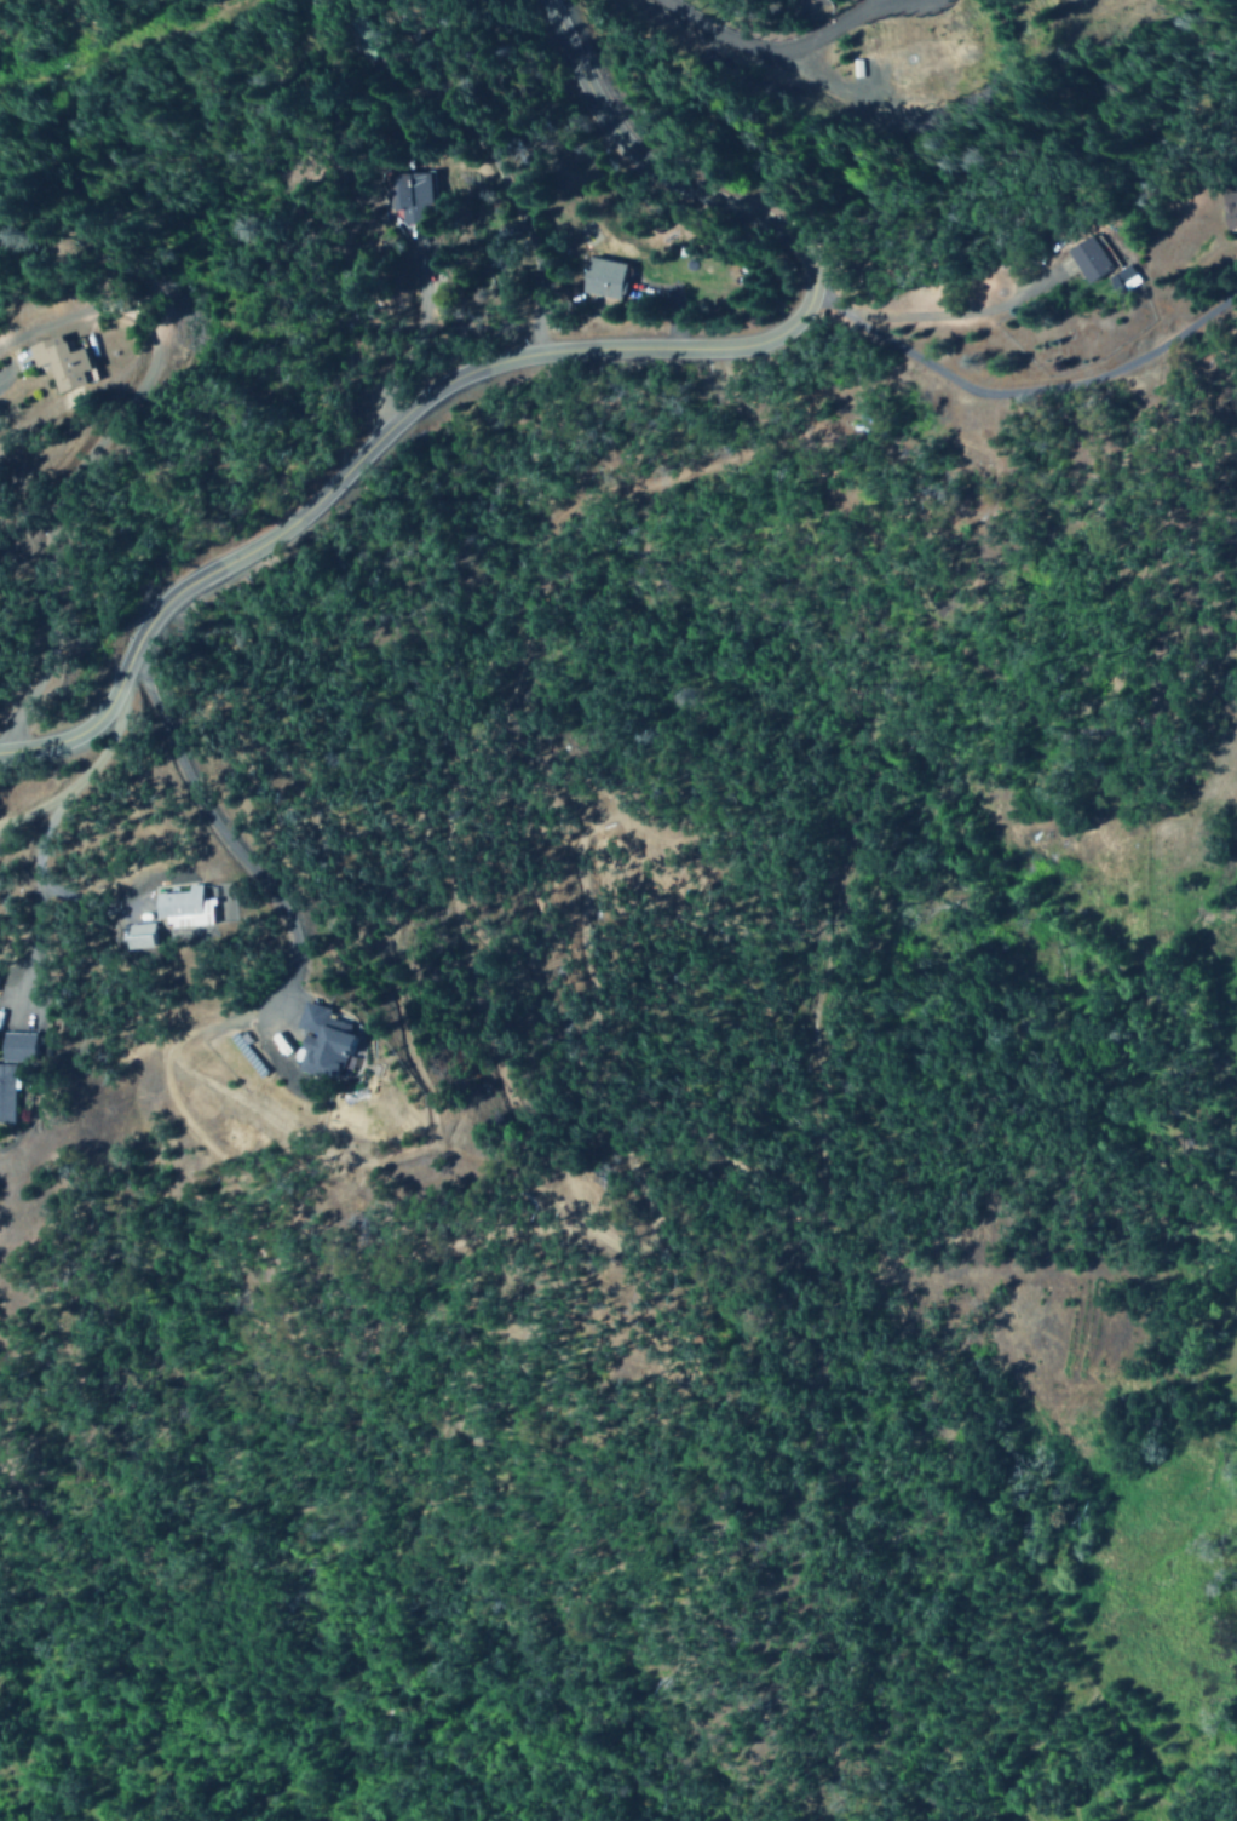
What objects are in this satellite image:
road: (771, 52)
building: (414, 189)
building: (1075, 254)
building: (604, 277)
road: (545, 349)
building: (58, 361)
road: (1020, 392)
road: (76, 785)
building: (184, 904)
road: (38, 924)
building: (136, 935)
building: (312, 1040)
building: (12, 1063)

